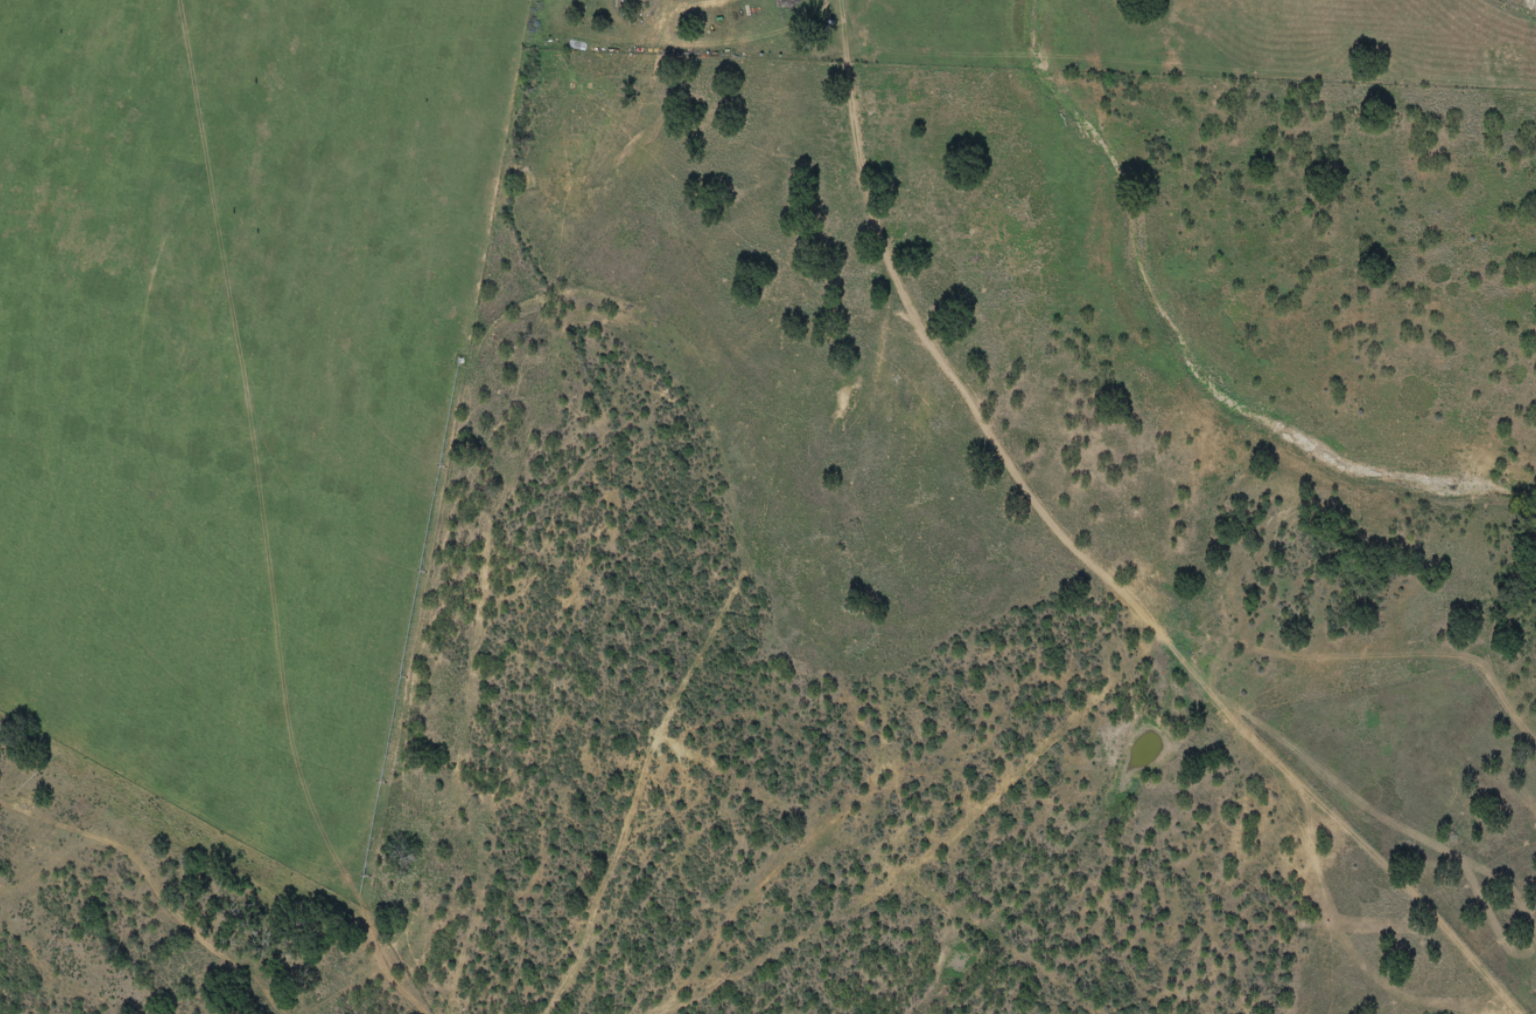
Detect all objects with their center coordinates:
road: (1076, 517)

